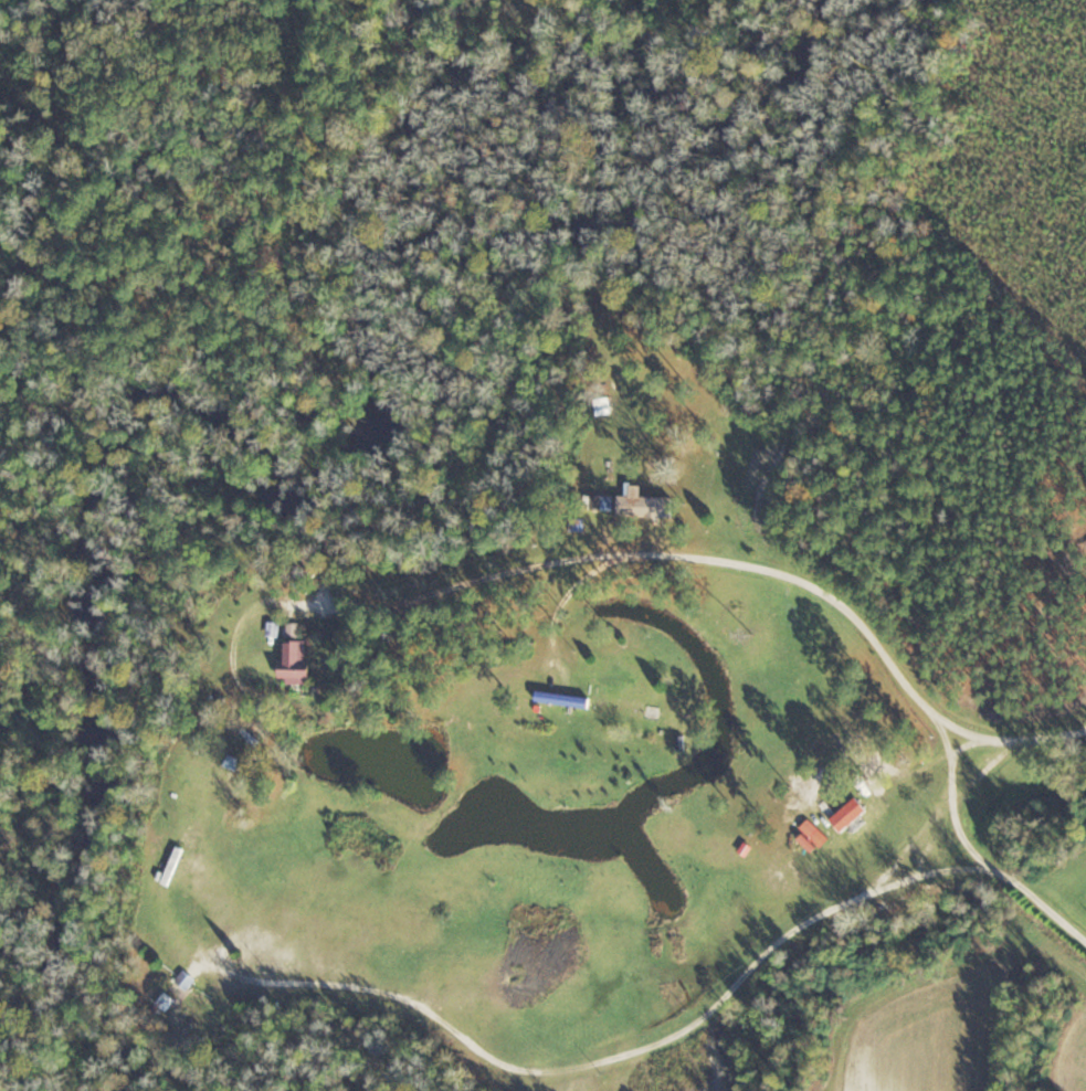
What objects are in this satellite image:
building: (649, 506)
road: (716, 557)
road: (565, 600)
building: (301, 659)
building: (868, 783)
road: (1006, 876)
building: (189, 979)
building: (170, 1000)
road: (663, 1048)

